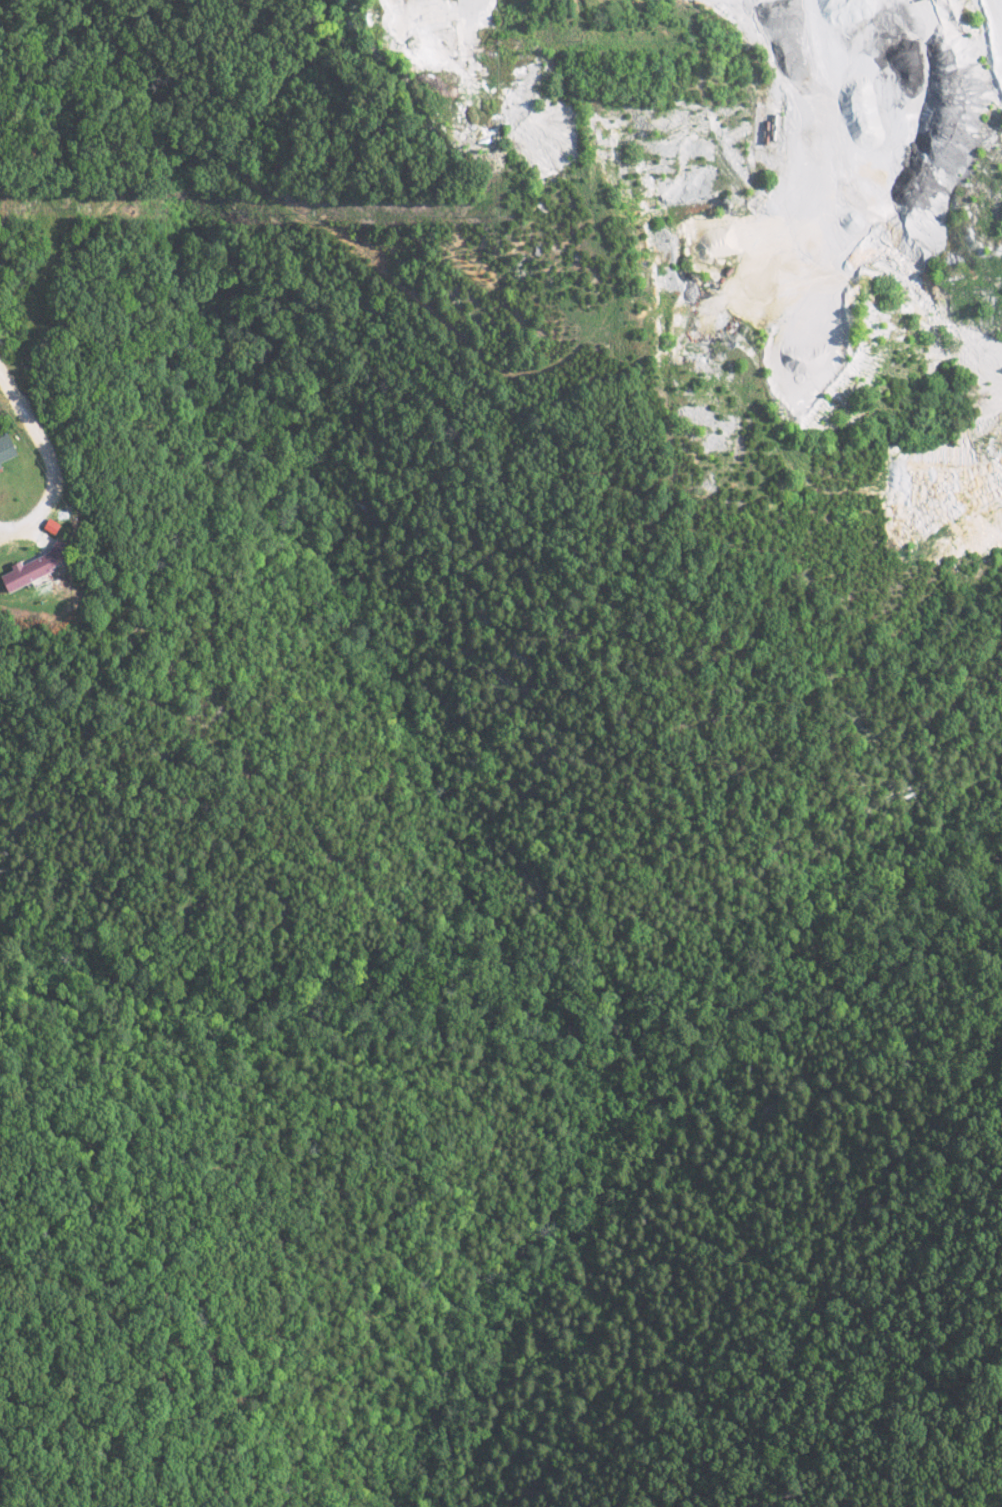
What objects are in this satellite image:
building: (7, 449)
road: (50, 463)
building: (54, 526)
building: (36, 570)

